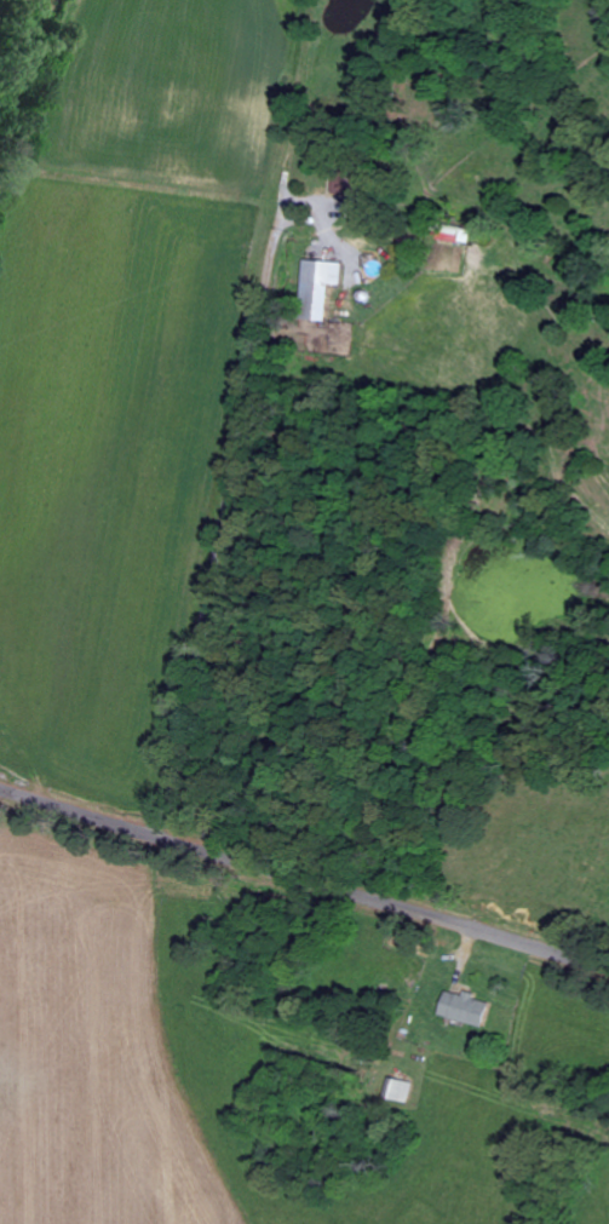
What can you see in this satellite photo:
building: (345, 188)
building: (454, 236)
building: (318, 289)
road: (249, 539)
road: (303, 878)
building: (465, 1008)
building: (404, 1091)

